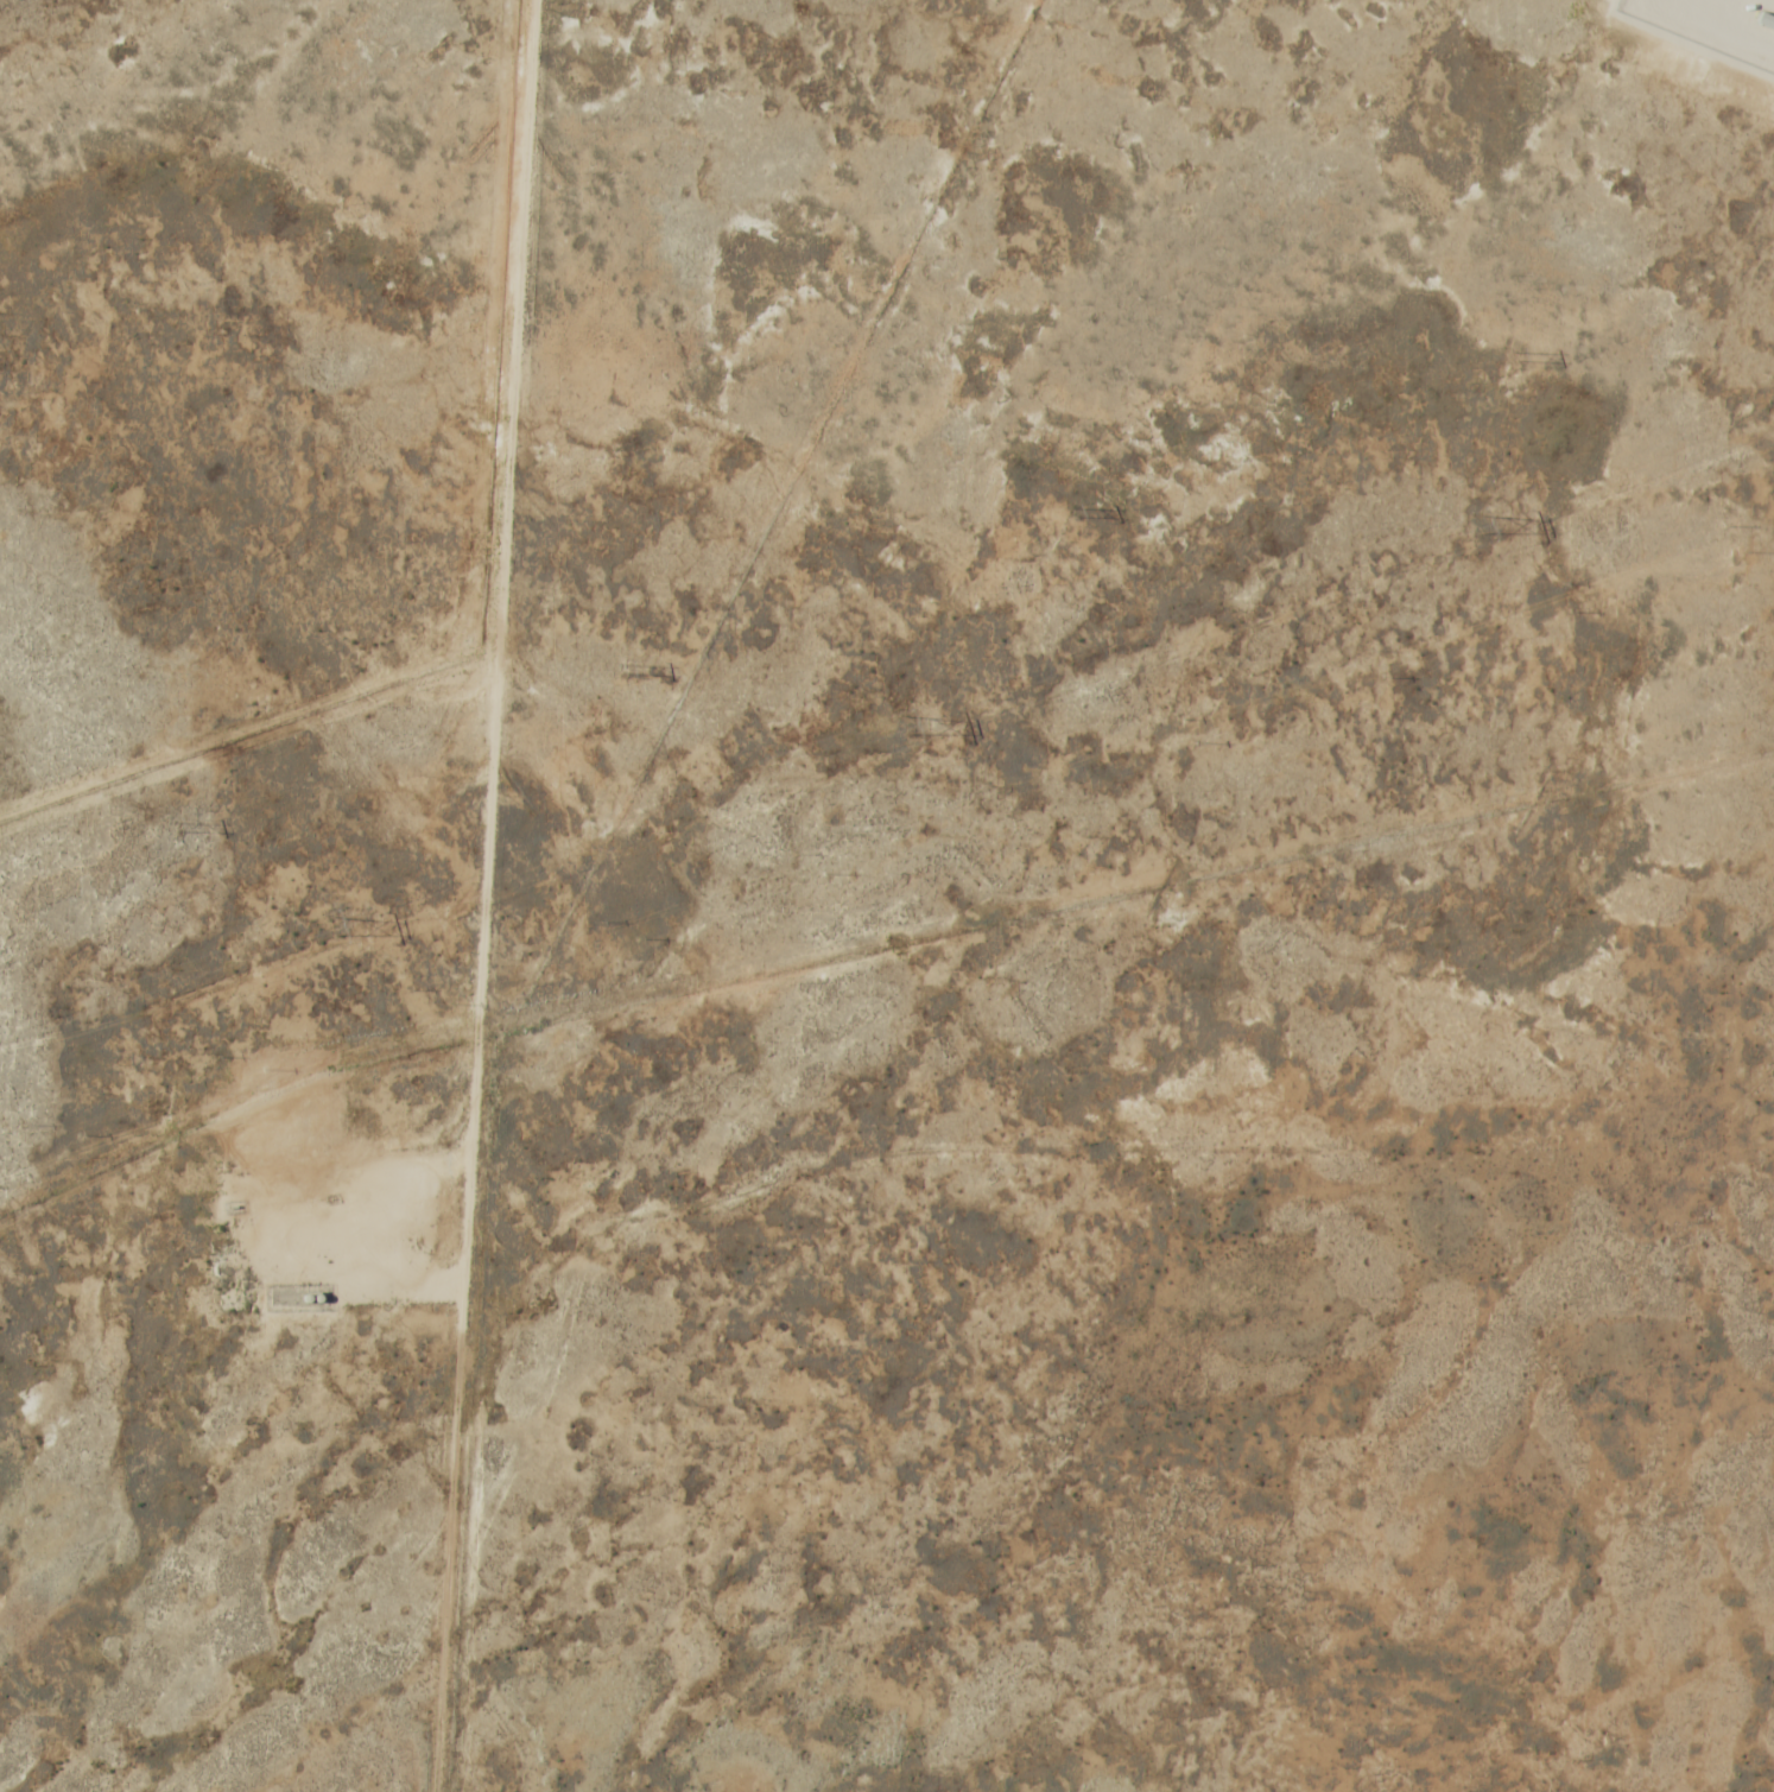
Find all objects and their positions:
power tower: (1516, 357)
power tower: (1073, 513)
power tower: (1477, 524)
power tower: (626, 670)
power tower: (907, 724)
power tower: (178, 827)
road: (486, 895)
power tower: (341, 925)

